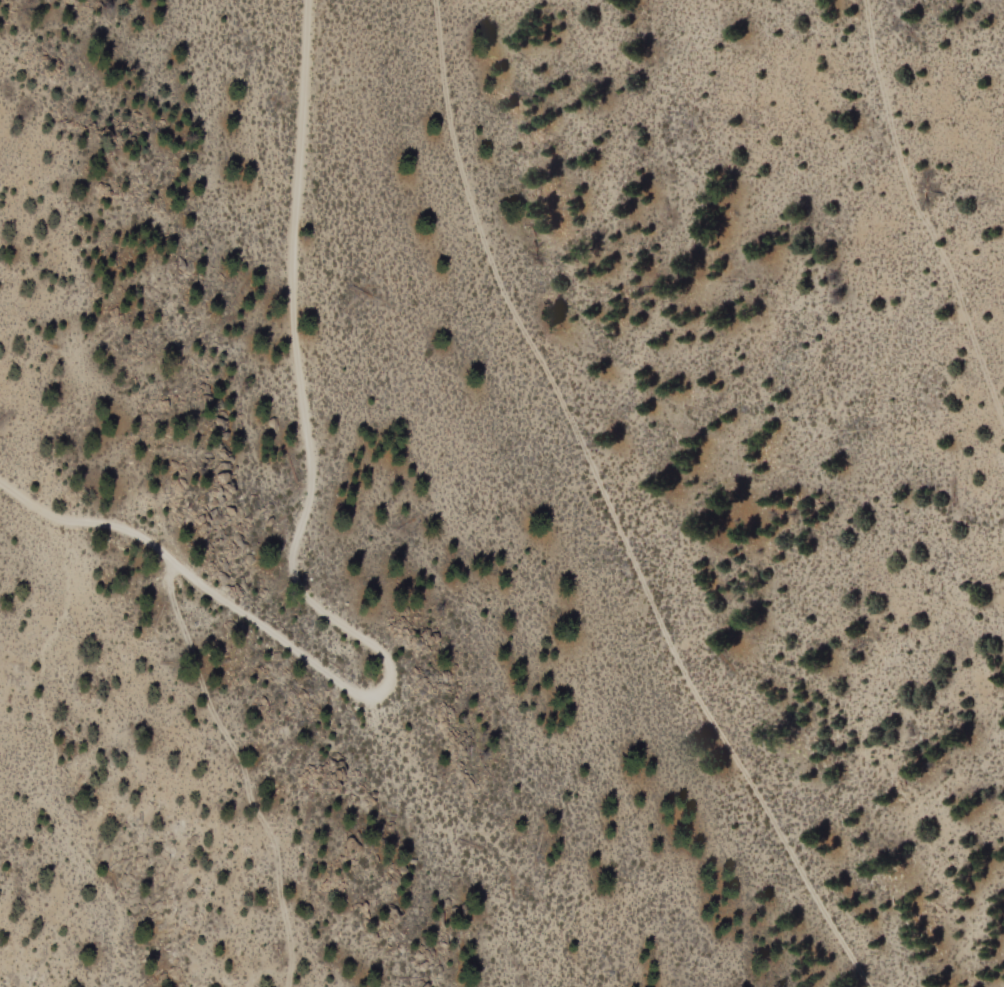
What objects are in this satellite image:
road: (918, 224)
road: (616, 510)
road: (301, 590)

